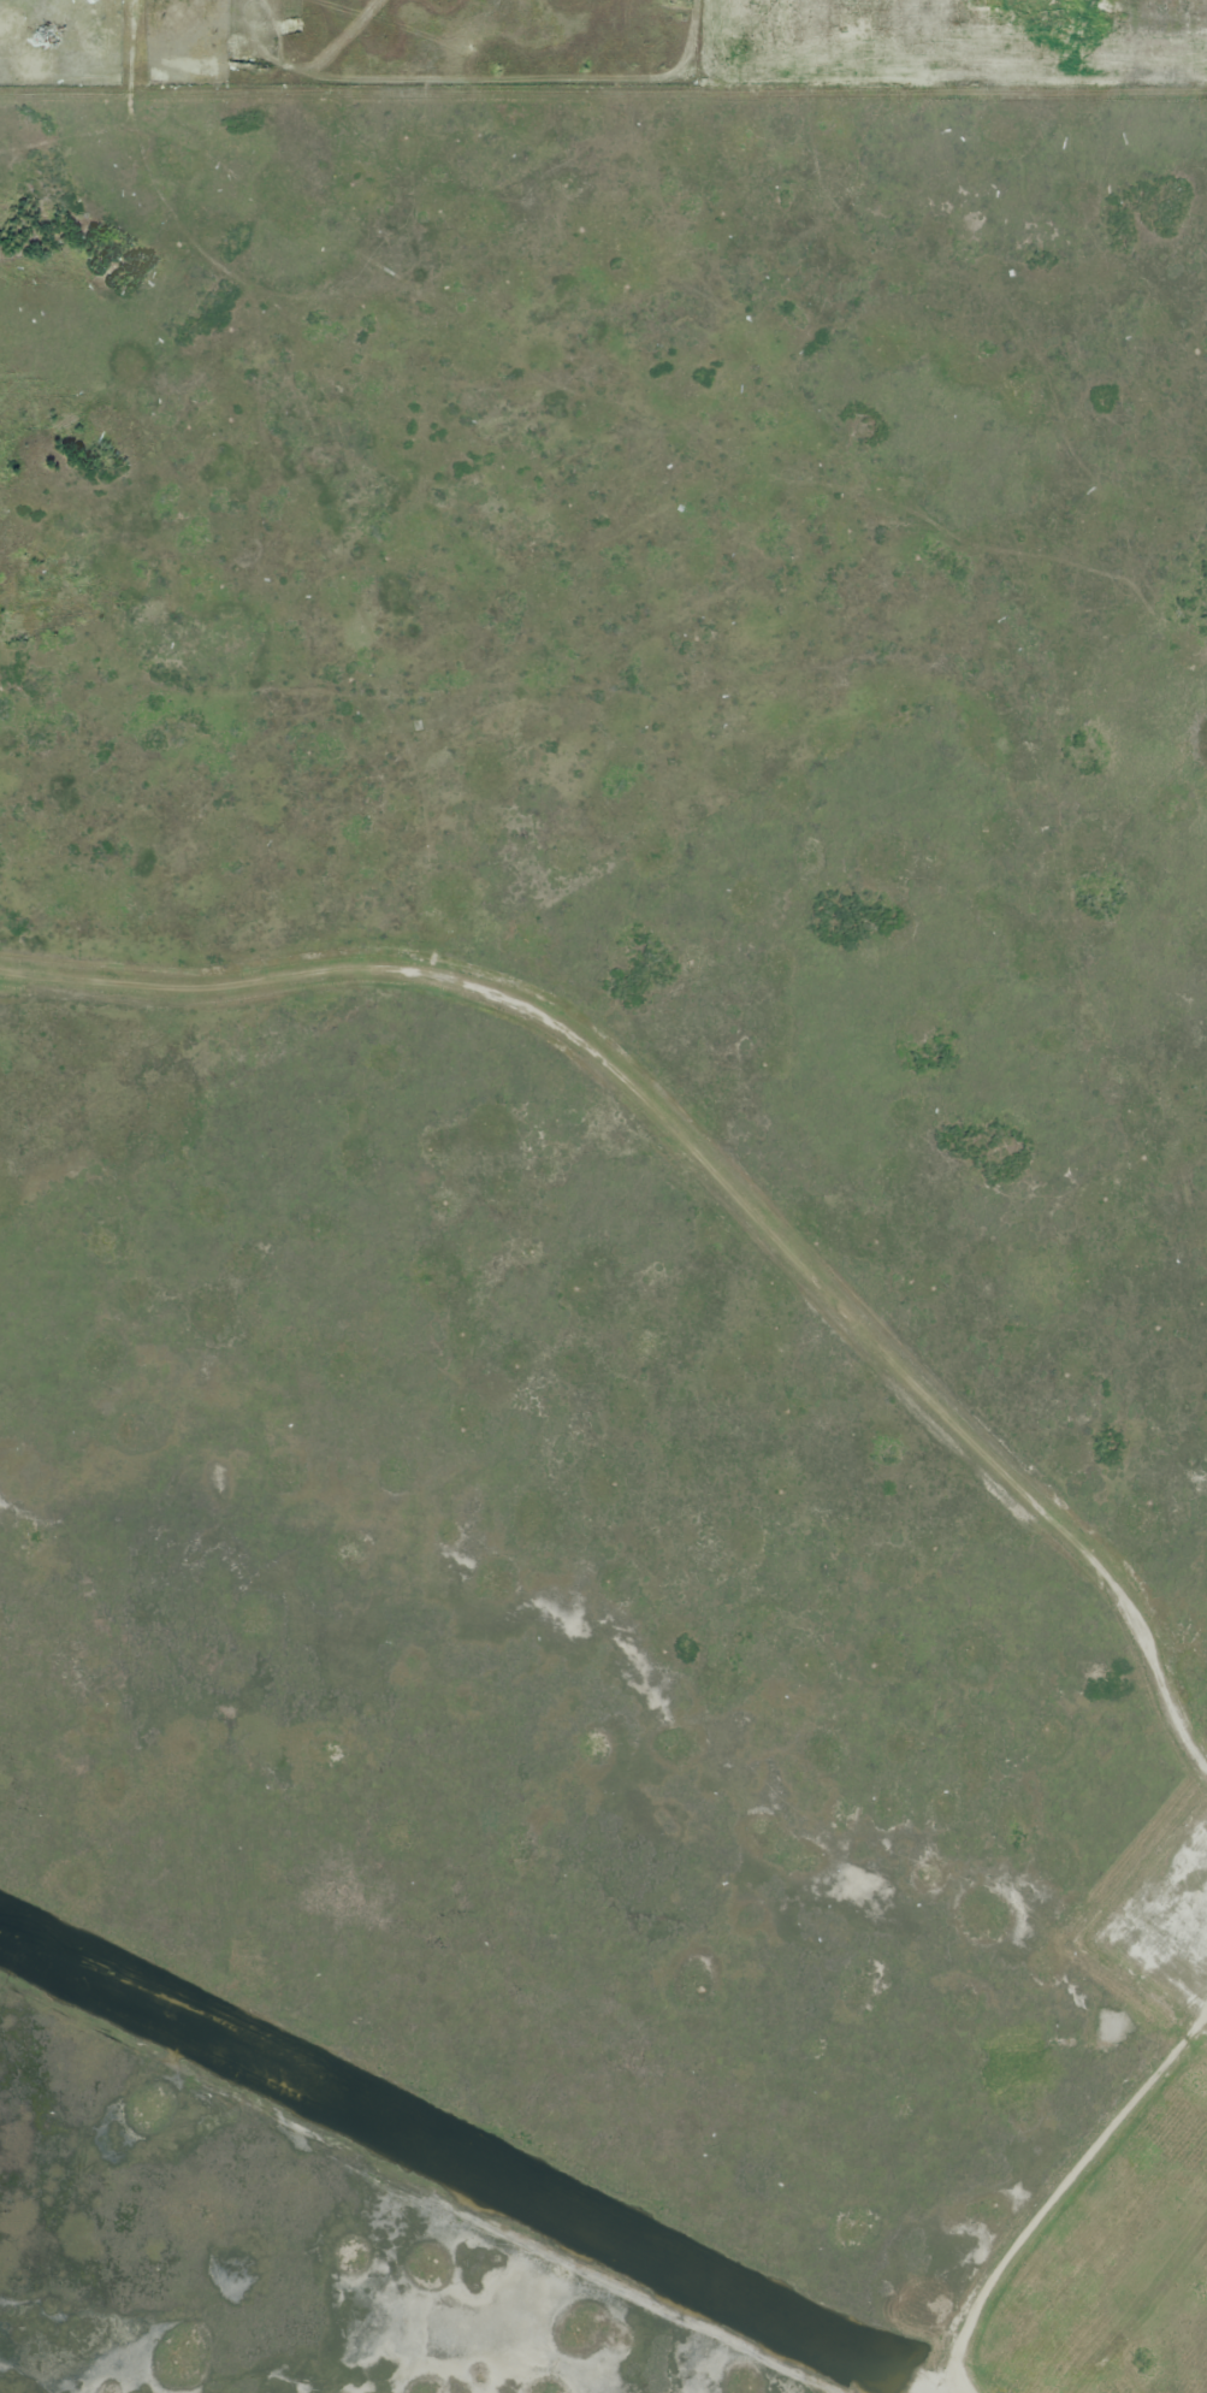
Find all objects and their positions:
road: (1060, 2192)

